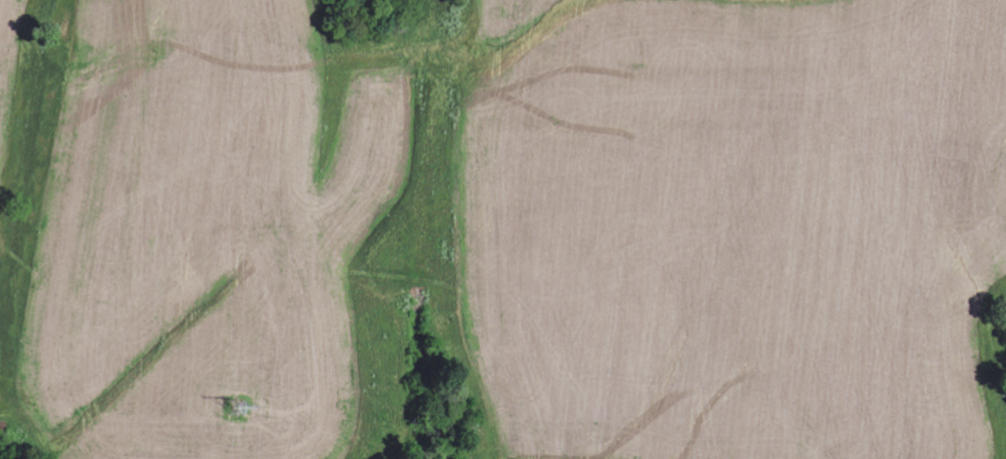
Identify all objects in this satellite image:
power tower: (235, 406)

